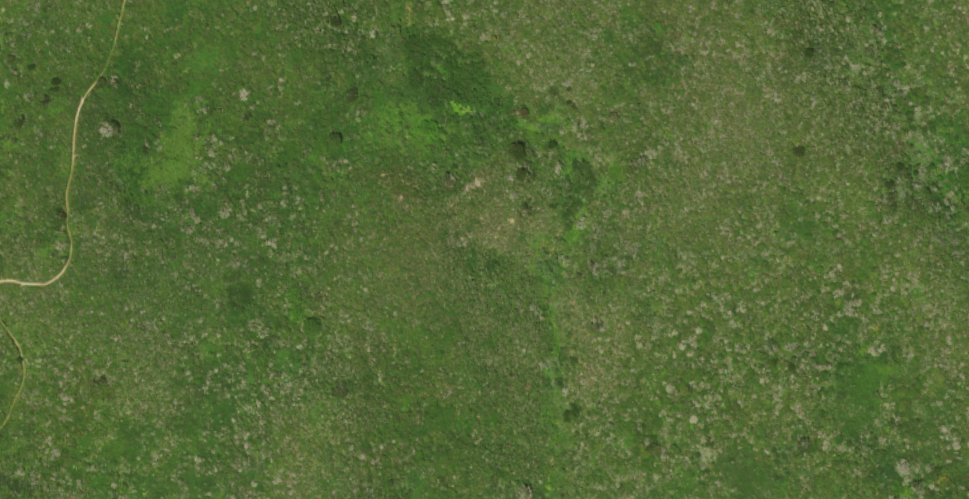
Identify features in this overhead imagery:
road: (71, 164)
park: (484, 249)
road: (20, 363)

